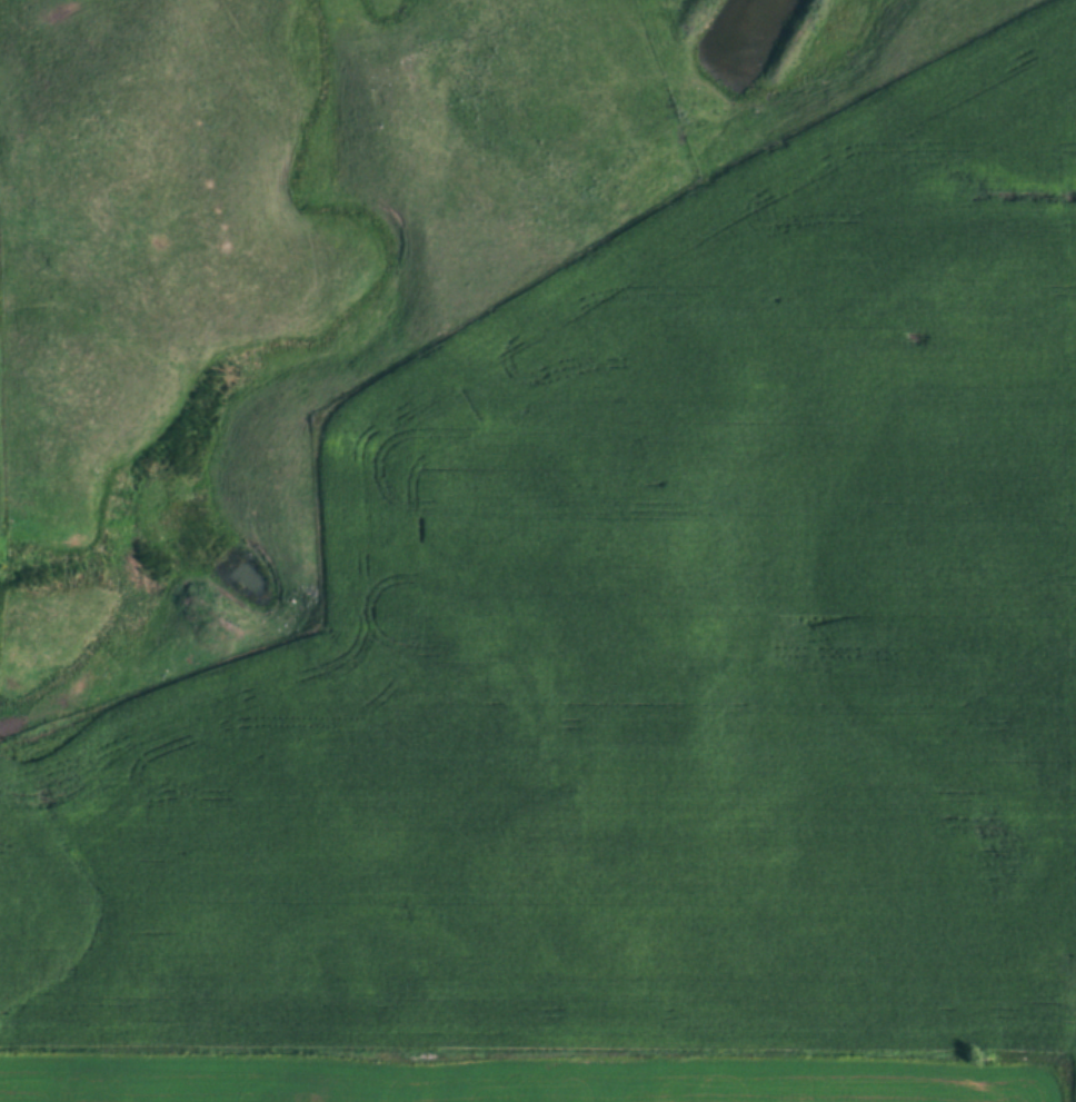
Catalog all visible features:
river: (755, 46)

